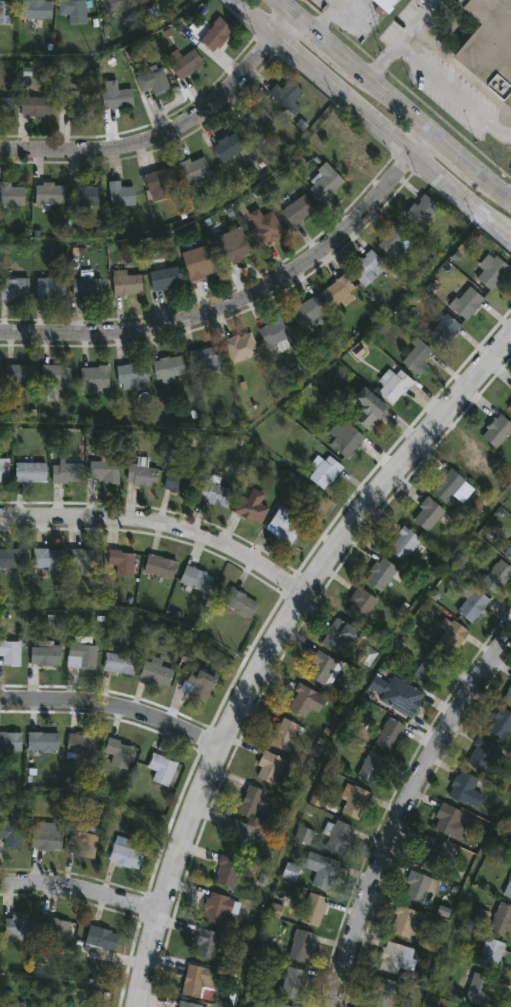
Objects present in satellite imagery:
road: (279, 1)
building: (386, 3)
building: (116, 6)
building: (37, 10)
building: (72, 11)
building: (5, 12)
building: (215, 36)
road: (397, 37)
building: (488, 44)
road: (105, 50)
building: (183, 64)
building: (152, 82)
road: (450, 93)
building: (286, 97)
road: (392, 99)
building: (116, 100)
building: (74, 104)
building: (36, 107)
building: (7, 108)
road: (375, 118)
building: (257, 123)
road: (169, 132)
building: (228, 148)
building: (354, 154)
building: (194, 170)
building: (325, 183)
building: (159, 185)
building: (48, 195)
building: (84, 196)
building: (120, 196)
building: (11, 197)
building: (297, 211)
building: (420, 211)
road: (197, 225)
building: (264, 229)
building: (393, 243)
building: (232, 247)
building: (198, 264)
building: (367, 269)
building: (492, 274)
building: (164, 281)
building: (126, 284)
building: (50, 289)
building: (87, 289)
building: (14, 290)
building: (337, 292)
road: (246, 296)
building: (465, 303)
building: (307, 315)
building: (443, 331)
building: (274, 333)
building: (240, 347)
building: (417, 359)
building: (205, 361)
building: (167, 370)
building: (131, 374)
building: (19, 377)
building: (55, 377)
building: (94, 378)
building: (394, 388)
road: (276, 406)
building: (509, 408)
building: (365, 410)
building: (345, 442)
building: (476, 463)
building: (3, 471)
building: (29, 474)
building: (66, 474)
building: (103, 474)
building: (324, 474)
building: (141, 478)
building: (178, 483)
building: (450, 487)
building: (215, 495)
building: (249, 513)
building: (427, 514)
road: (158, 524)
building: (284, 526)
building: (403, 544)
building: (508, 552)
building: (12, 560)
building: (48, 560)
building: (82, 562)
building: (121, 564)
building: (158, 567)
building: (380, 574)
building: (496, 576)
building: (195, 580)
building: (239, 604)
building: (359, 605)
building: (473, 607)
road: (133, 616)
building: (339, 636)
road: (271, 642)
building: (9, 653)
building: (45, 656)
building: (81, 656)
building: (118, 664)
building: (322, 669)
building: (429, 669)
building: (155, 674)
building: (196, 685)
building: (401, 696)
building: (508, 696)
building: (305, 701)
road: (111, 706)
building: (499, 724)
road: (344, 732)
building: (390, 734)
building: (284, 735)
building: (10, 742)
building: (42, 742)
building: (81, 744)
building: (118, 753)
building: (481, 754)
building: (269, 767)
building: (372, 768)
building: (160, 769)
building: (462, 787)
road: (92, 801)
building: (250, 802)
building: (353, 802)
road: (399, 811)
building: (449, 821)
building: (10, 835)
building: (240, 836)
building: (338, 837)
building: (47, 840)
building: (81, 840)
building: (124, 853)
building: (429, 853)
building: (320, 869)
building: (227, 872)
building: (416, 887)
building: (507, 888)
road: (79, 890)
road: (462, 897)
building: (216, 908)
building: (312, 909)
building: (501, 918)
building: (406, 922)
building: (20, 927)
building: (57, 933)
building: (100, 939)
building: (206, 944)
building: (301, 945)
building: (491, 953)
building: (395, 957)
building: (197, 980)
road: (68, 982)
building: (293, 983)
building: (475, 988)
building: (383, 992)
building: (11, 1004)
building: (188, 1004)
building: (281, 1006)

